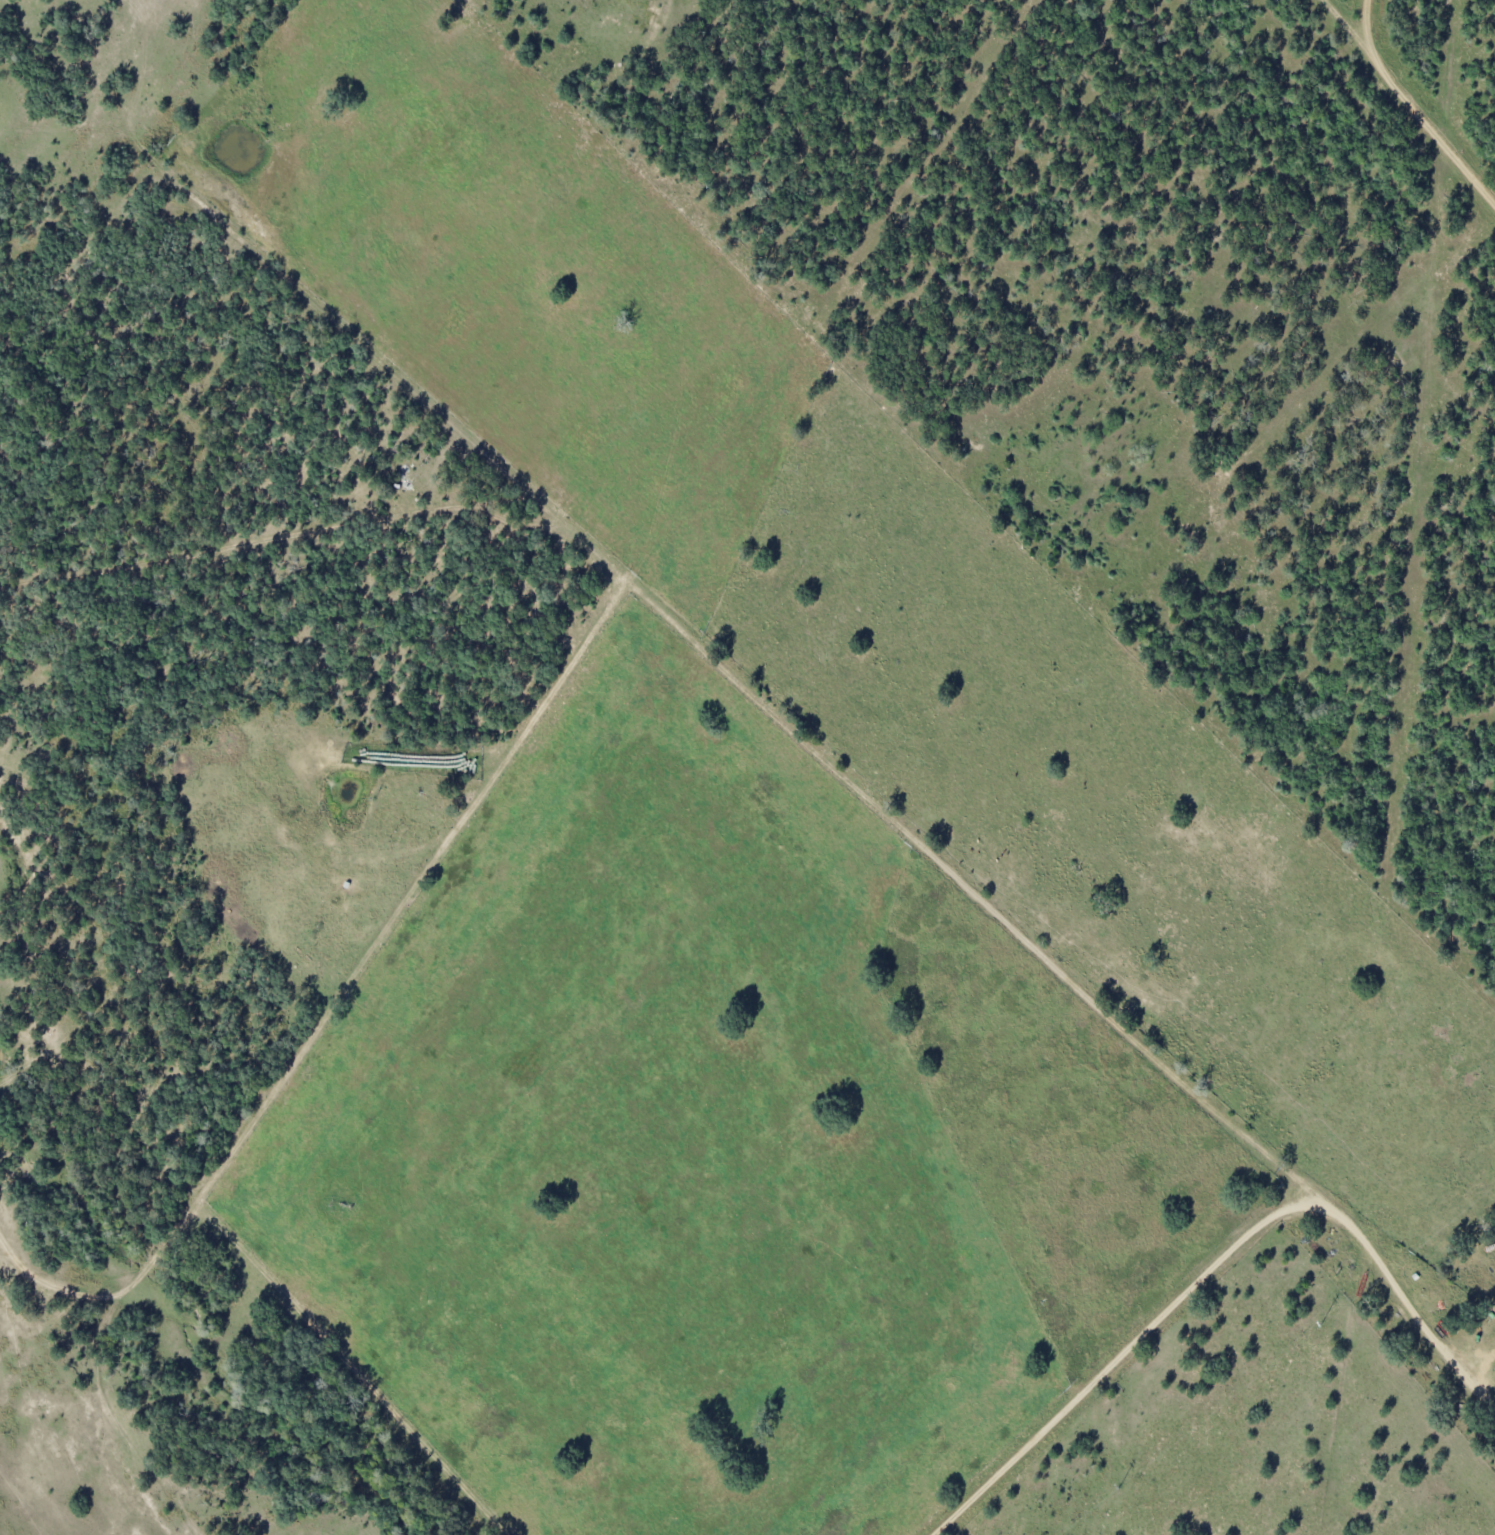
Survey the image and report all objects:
road: (1390, 119)
road: (1247, 1317)

